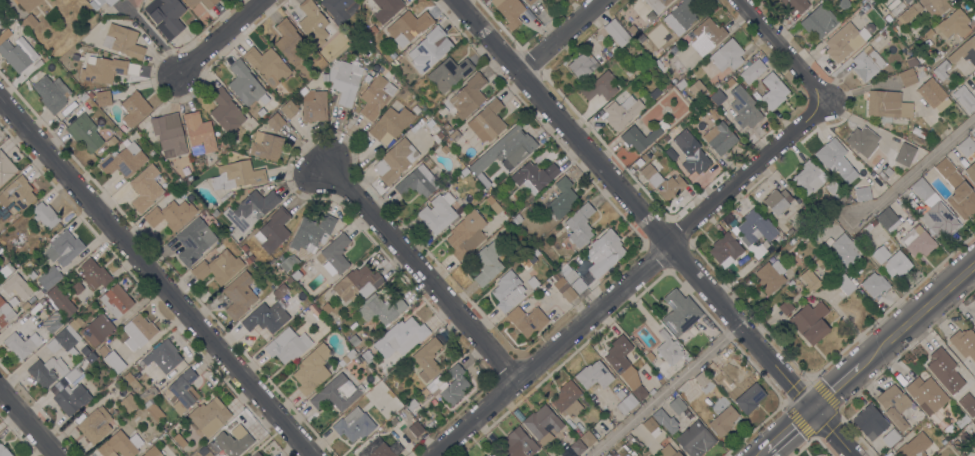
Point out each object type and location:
building: (543, 1)
building: (907, 1)
building: (529, 2)
building: (100, 3)
building: (28, 4)
building: (657, 4)
building: (209, 5)
building: (795, 5)
building: (934, 6)
building: (340, 9)
building: (386, 9)
building: (509, 11)
building: (909, 12)
building: (683, 14)
building: (165, 16)
building: (0, 20)
building: (819, 20)
building: (29, 22)
building: (314, 23)
building: (954, 24)
building: (408, 26)
building: (372, 30)
building: (632, 30)
building: (616, 33)
road: (152, 34)
road: (559, 36)
building: (706, 36)
road: (216, 37)
building: (125, 41)
building: (843, 42)
building: (291, 43)
road: (781, 47)
building: (427, 49)
building: (16, 51)
building: (964, 51)
building: (392, 55)
building: (727, 55)
building: (911, 61)
building: (867, 63)
building: (268, 65)
building: (583, 65)
building: (106, 69)
building: (941, 70)
building: (752, 71)
building: (449, 73)
building: (908, 78)
building: (344, 79)
building: (730, 82)
building: (244, 83)
building: (681, 84)
building: (717, 84)
building: (667, 85)
building: (600, 87)
building: (698, 89)
building: (660, 91)
building: (773, 91)
building: (52, 93)
building: (933, 94)
building: (90, 95)
building: (82, 96)
building: (376, 96)
building: (466, 97)
building: (717, 97)
building: (103, 98)
building: (965, 98)
building: (688, 99)
building: (888, 105)
building: (314, 106)
building: (134, 108)
building: (744, 108)
building: (288, 109)
building: (226, 112)
building: (622, 112)
building: (714, 113)
building: (487, 121)
building: (275, 122)
building: (391, 122)
building: (663, 124)
building: (169, 132)
building: (674, 132)
building: (85, 133)
building: (199, 133)
building: (973, 134)
building: (453, 137)
building: (639, 137)
building: (720, 138)
building: (111, 141)
building: (863, 141)
building: (515, 145)
building: (267, 147)
building: (967, 148)
building: (445, 149)
building: (670, 153)
building: (830, 153)
building: (905, 154)
building: (123, 160)
building: (397, 160)
building: (695, 161)
road: (916, 166)
building: (6, 168)
building: (944, 168)
building: (888, 171)
building: (971, 172)
building: (847, 174)
building: (880, 174)
building: (237, 175)
building: (534, 175)
building: (809, 177)
building: (485, 180)
building: (662, 180)
building: (416, 182)
building: (146, 187)
building: (17, 193)
building: (837, 193)
building: (862, 193)
building: (561, 198)
building: (962, 200)
building: (777, 201)
building: (495, 207)
building: (251, 209)
building: (933, 210)
building: (204, 212)
building: (215, 212)
building: (438, 213)
building: (805, 213)
building: (170, 214)
building: (45, 215)
building: (885, 220)
building: (580, 225)
road: (651, 227)
building: (755, 229)
building: (273, 230)
building: (466, 234)
building: (310, 235)
building: (534, 238)
building: (194, 241)
building: (917, 241)
building: (538, 243)
building: (244, 247)
building: (64, 248)
building: (725, 249)
building: (826, 250)
building: (845, 250)
building: (549, 252)
building: (604, 252)
building: (335, 255)
building: (281, 258)
building: (246, 259)
building: (527, 260)
building: (820, 260)
building: (891, 261)
building: (288, 262)
building: (488, 262)
building: (218, 267)
building: (6, 269)
building: (831, 272)
road: (421, 273)
building: (31, 274)
building: (295, 274)
building: (94, 275)
building: (770, 276)
building: (50, 277)
road: (154, 278)
building: (552, 278)
building: (289, 279)
building: (572, 279)
road: (627, 280)
building: (810, 280)
building: (532, 282)
building: (357, 283)
building: (791, 283)
building: (845, 284)
building: (874, 284)
building: (76, 287)
building: (279, 290)
building: (508, 291)
building: (567, 292)
building: (239, 295)
building: (116, 300)
building: (61, 301)
building: (25, 305)
building: (785, 307)
building: (326, 308)
building: (381, 308)
building: (313, 309)
building: (680, 312)
building: (5, 313)
building: (266, 317)
building: (336, 318)
road: (917, 318)
building: (527, 321)
building: (51, 322)
building: (810, 322)
building: (76, 323)
building: (974, 327)
building: (97, 329)
building: (138, 331)
building: (405, 335)
building: (64, 340)
building: (353, 340)
building: (964, 343)
building: (21, 345)
building: (287, 345)
building: (669, 348)
building: (103, 349)
building: (85, 350)
building: (647, 355)
building: (163, 356)
building: (367, 356)
building: (90, 357)
building: (347, 357)
building: (427, 359)
building: (114, 361)
building: (624, 366)
building: (312, 369)
building: (711, 370)
building: (944, 370)
building: (46, 371)
building: (73, 374)
building: (593, 375)
building: (375, 379)
building: (132, 382)
building: (704, 382)
building: (450, 385)
building: (684, 385)
building: (184, 390)
building: (652, 391)
road: (662, 391)
building: (679, 391)
road: (834, 391)
building: (338, 392)
building: (148, 394)
building: (620, 394)
building: (747, 394)
building: (926, 394)
building: (71, 398)
building: (568, 399)
building: (128, 403)
building: (626, 404)
building: (967, 404)
building: (676, 405)
building: (894, 405)
building: (413, 406)
building: (152, 408)
building: (604, 408)
building: (405, 414)
building: (209, 416)
building: (723, 417)
building: (665, 421)
building: (870, 422)
building: (95, 424)
building: (542, 424)
building: (650, 424)
building: (176, 425)
building: (354, 425)
road: (26, 426)
building: (416, 429)
road: (788, 432)
building: (587, 438)
building: (891, 438)
building: (695, 440)
building: (229, 444)
building: (518, 444)
building: (120, 445)
building: (914, 446)
building: (577, 447)
building: (380, 449)
building: (4, 451)
building: (668, 451)
building: (152, 452)
road: (764, 453)
building: (256, 454)
building: (564, 454)
building: (607, 454)
building: (194, 455)
building: (247, 455)
building: (489, 455)
building: (494, 455)

